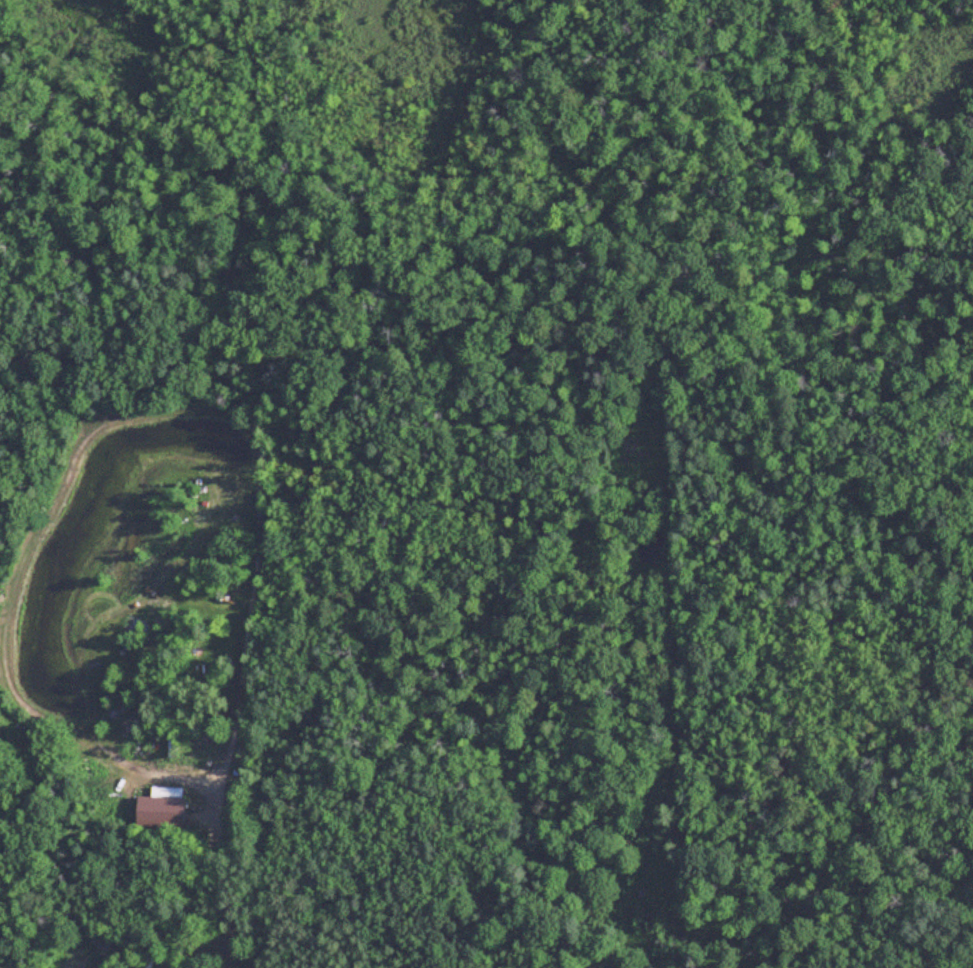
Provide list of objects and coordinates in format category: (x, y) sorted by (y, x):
building: (159, 812)

